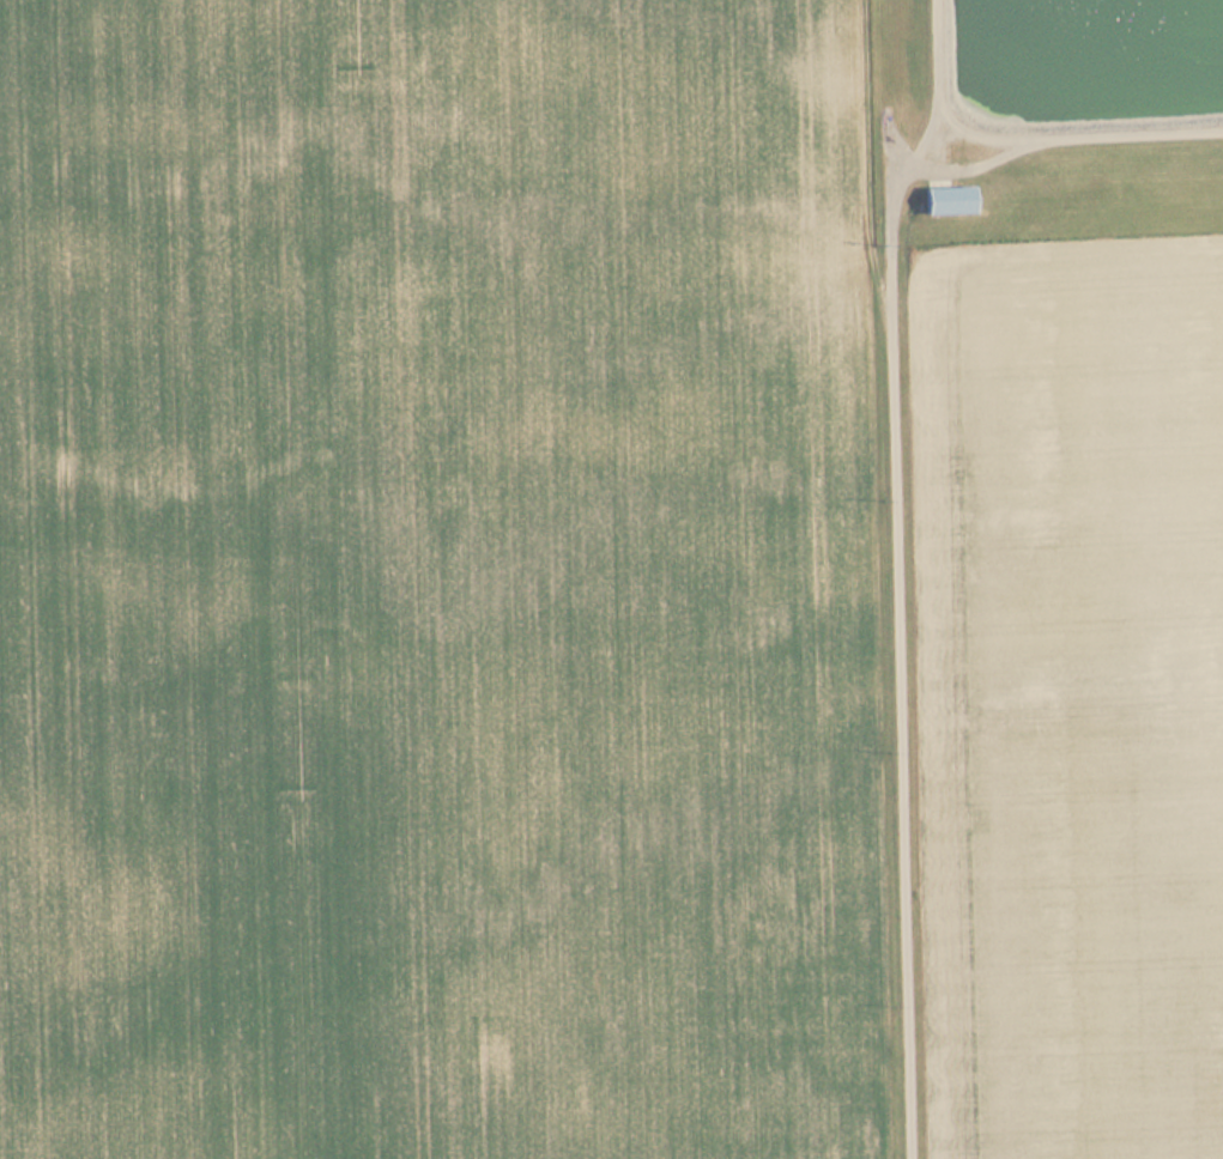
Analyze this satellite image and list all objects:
building: (951, 200)

